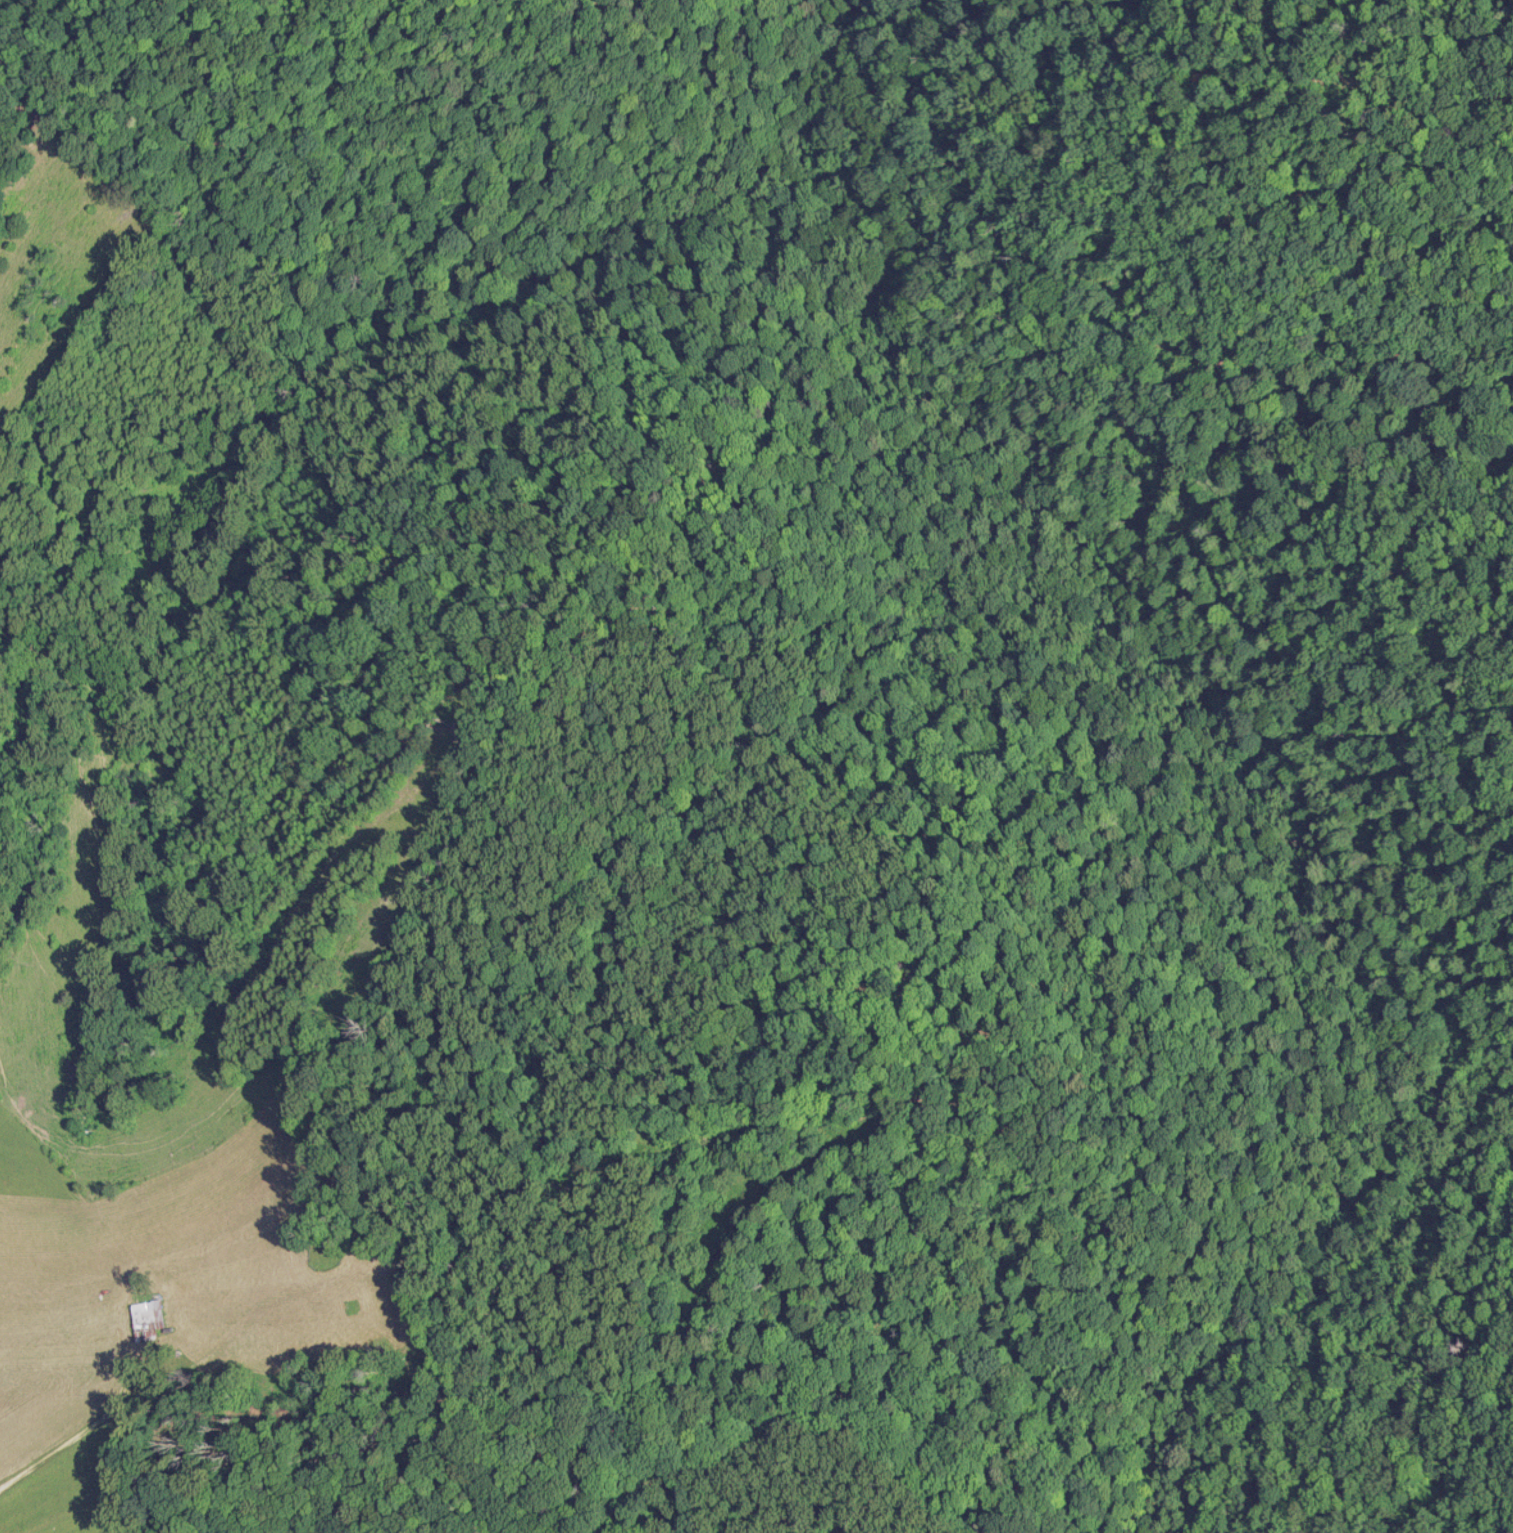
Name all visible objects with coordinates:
road: (296, 1315)

